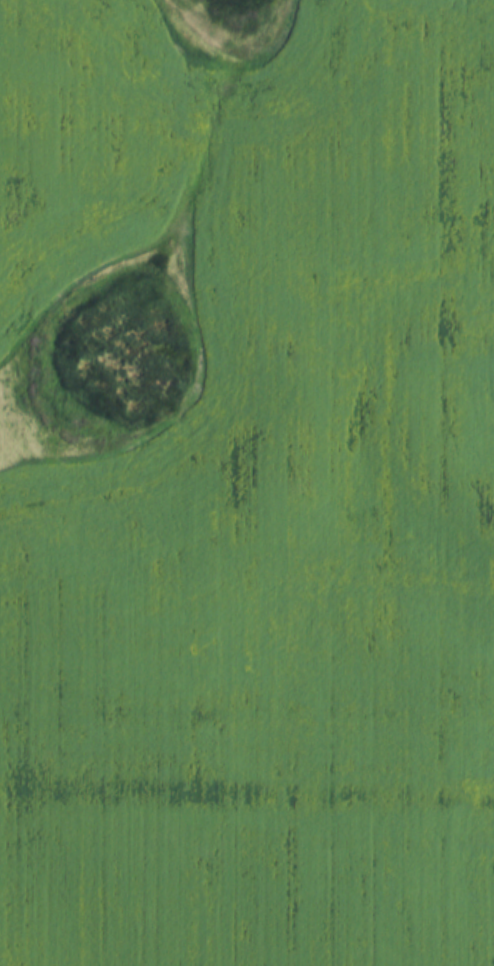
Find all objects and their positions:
wind turbine: (190, 793)

